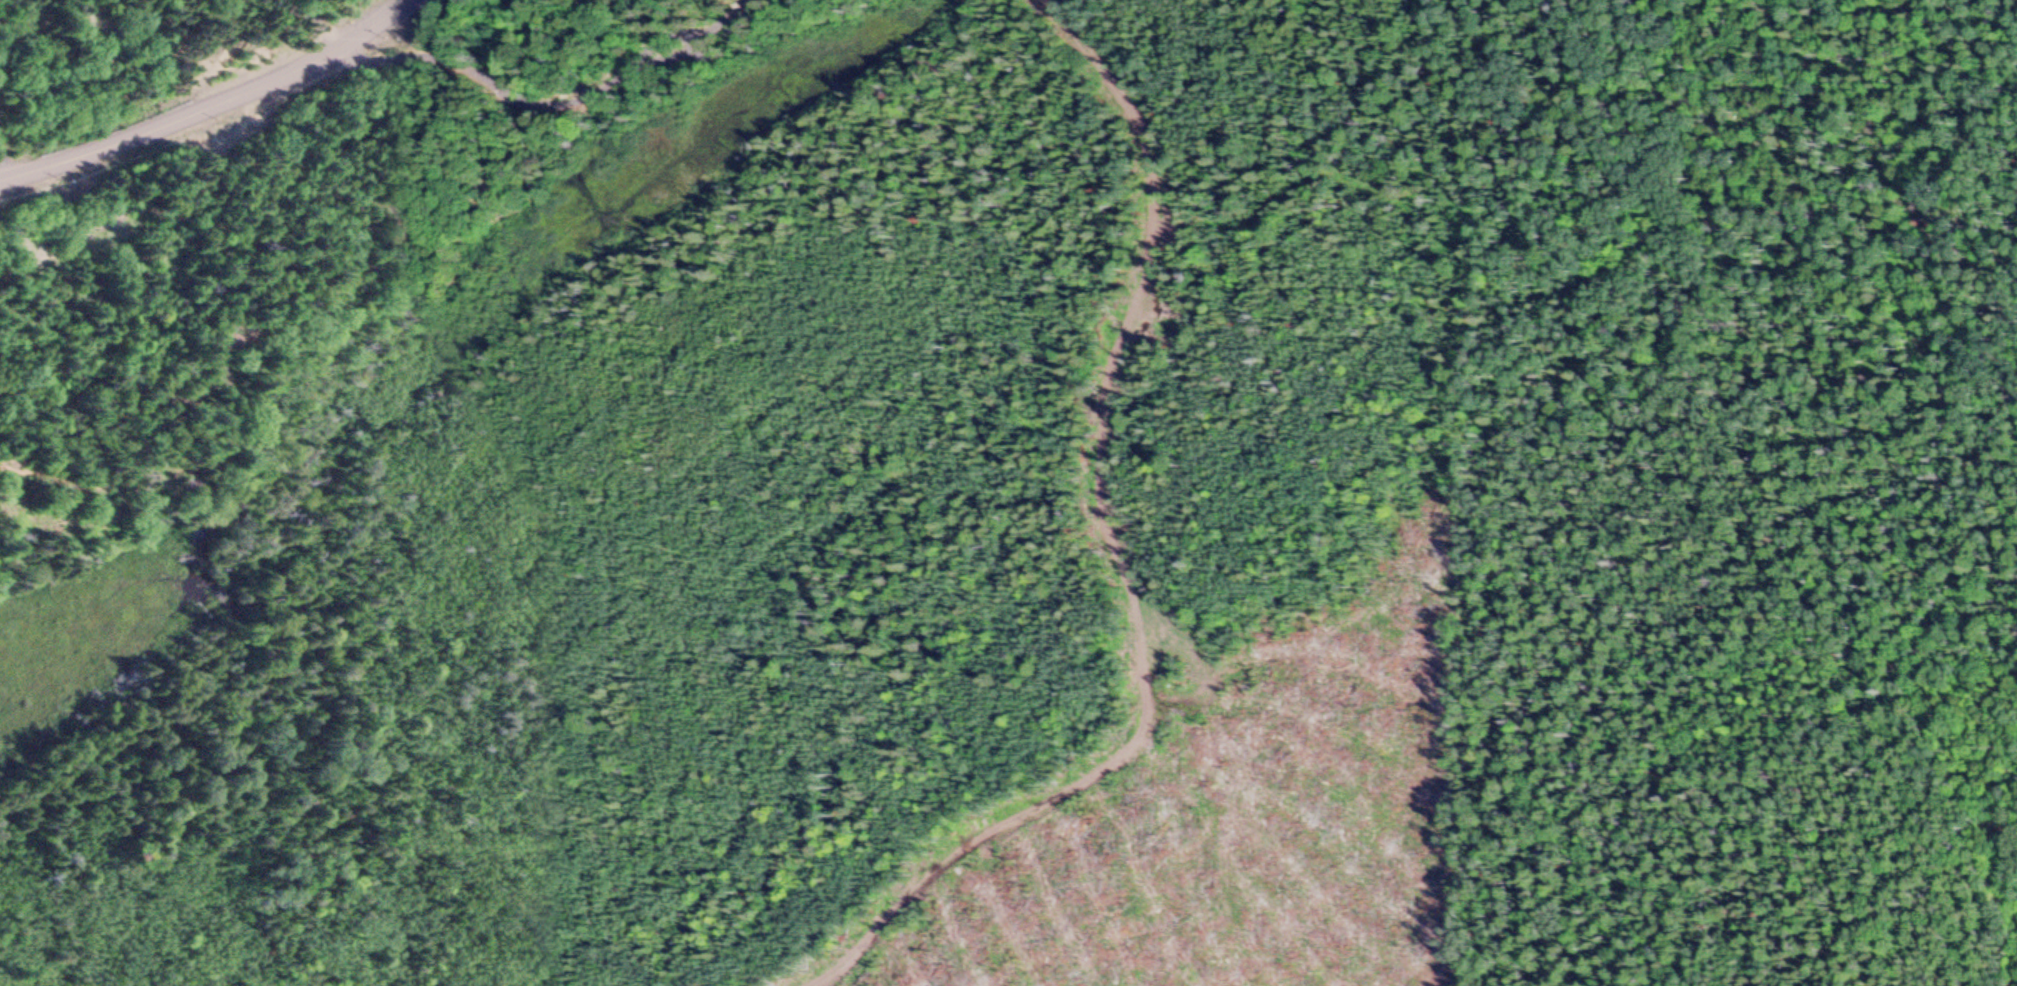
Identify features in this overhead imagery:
road: (333, 16)
road: (207, 103)

